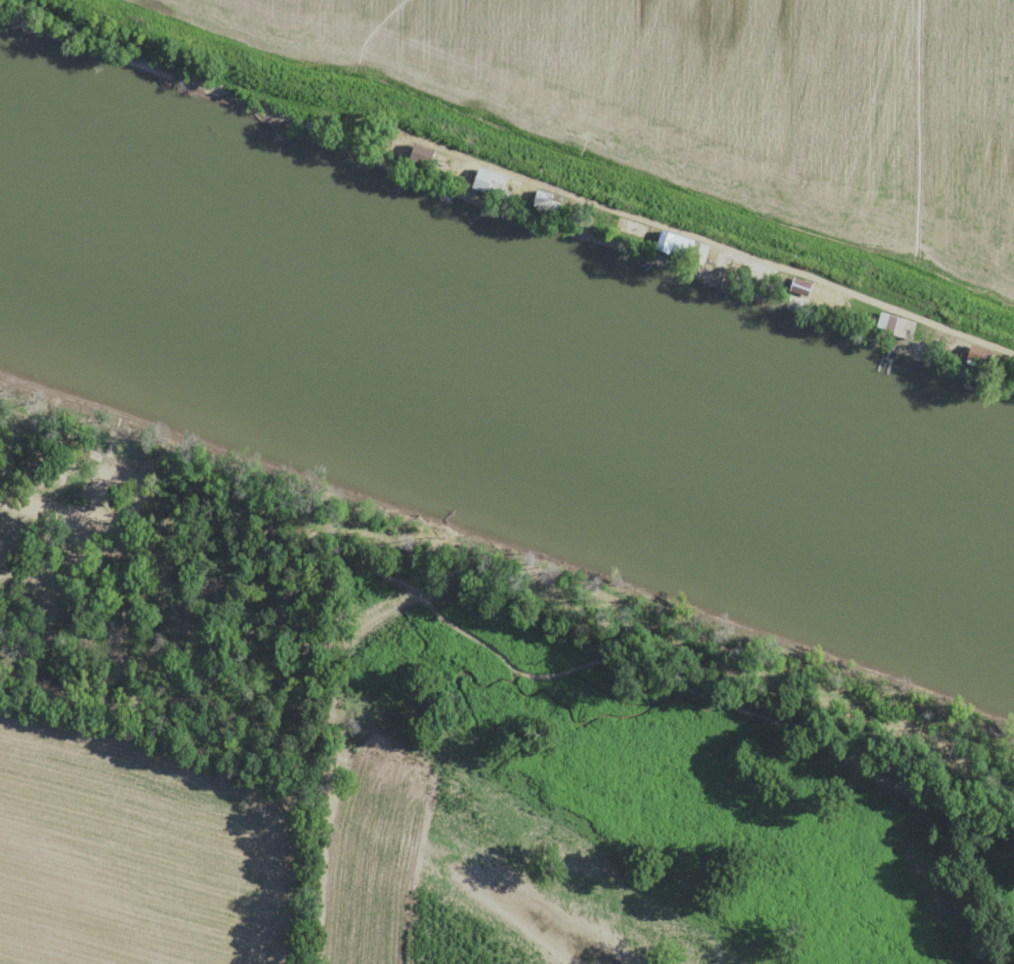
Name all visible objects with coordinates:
building: (433, 156)
building: (499, 183)
building: (618, 225)
road: (707, 242)
building: (669, 244)
building: (724, 263)
building: (797, 289)
building: (880, 324)
building: (970, 355)
river: (511, 367)
road: (40, 505)
road: (108, 547)

